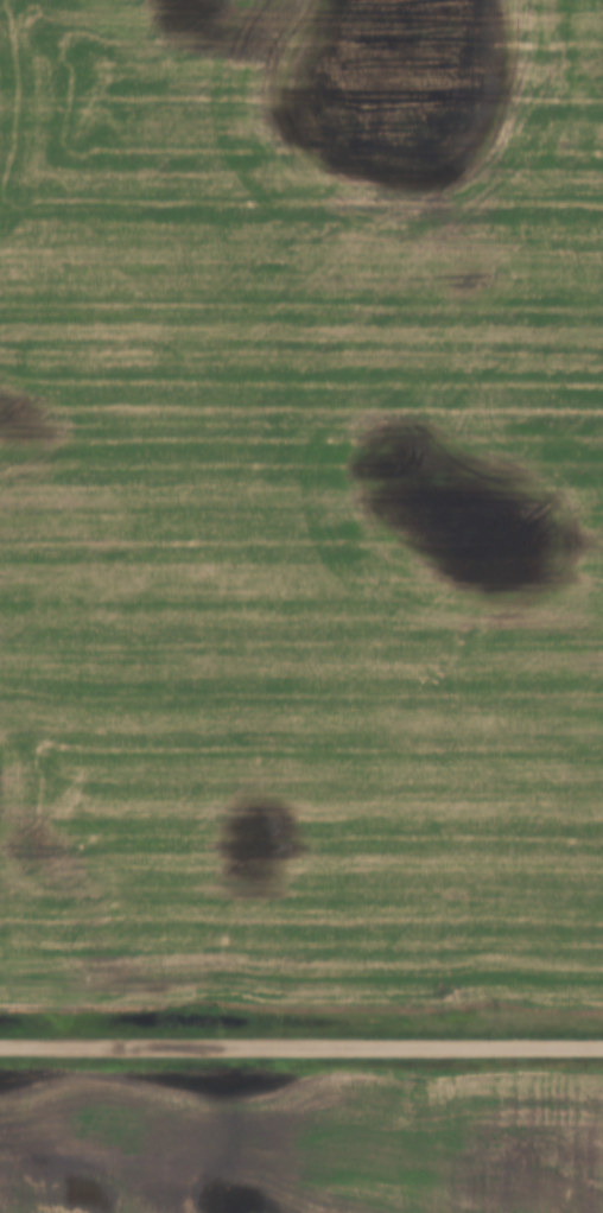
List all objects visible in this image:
road: (300, 1048)

